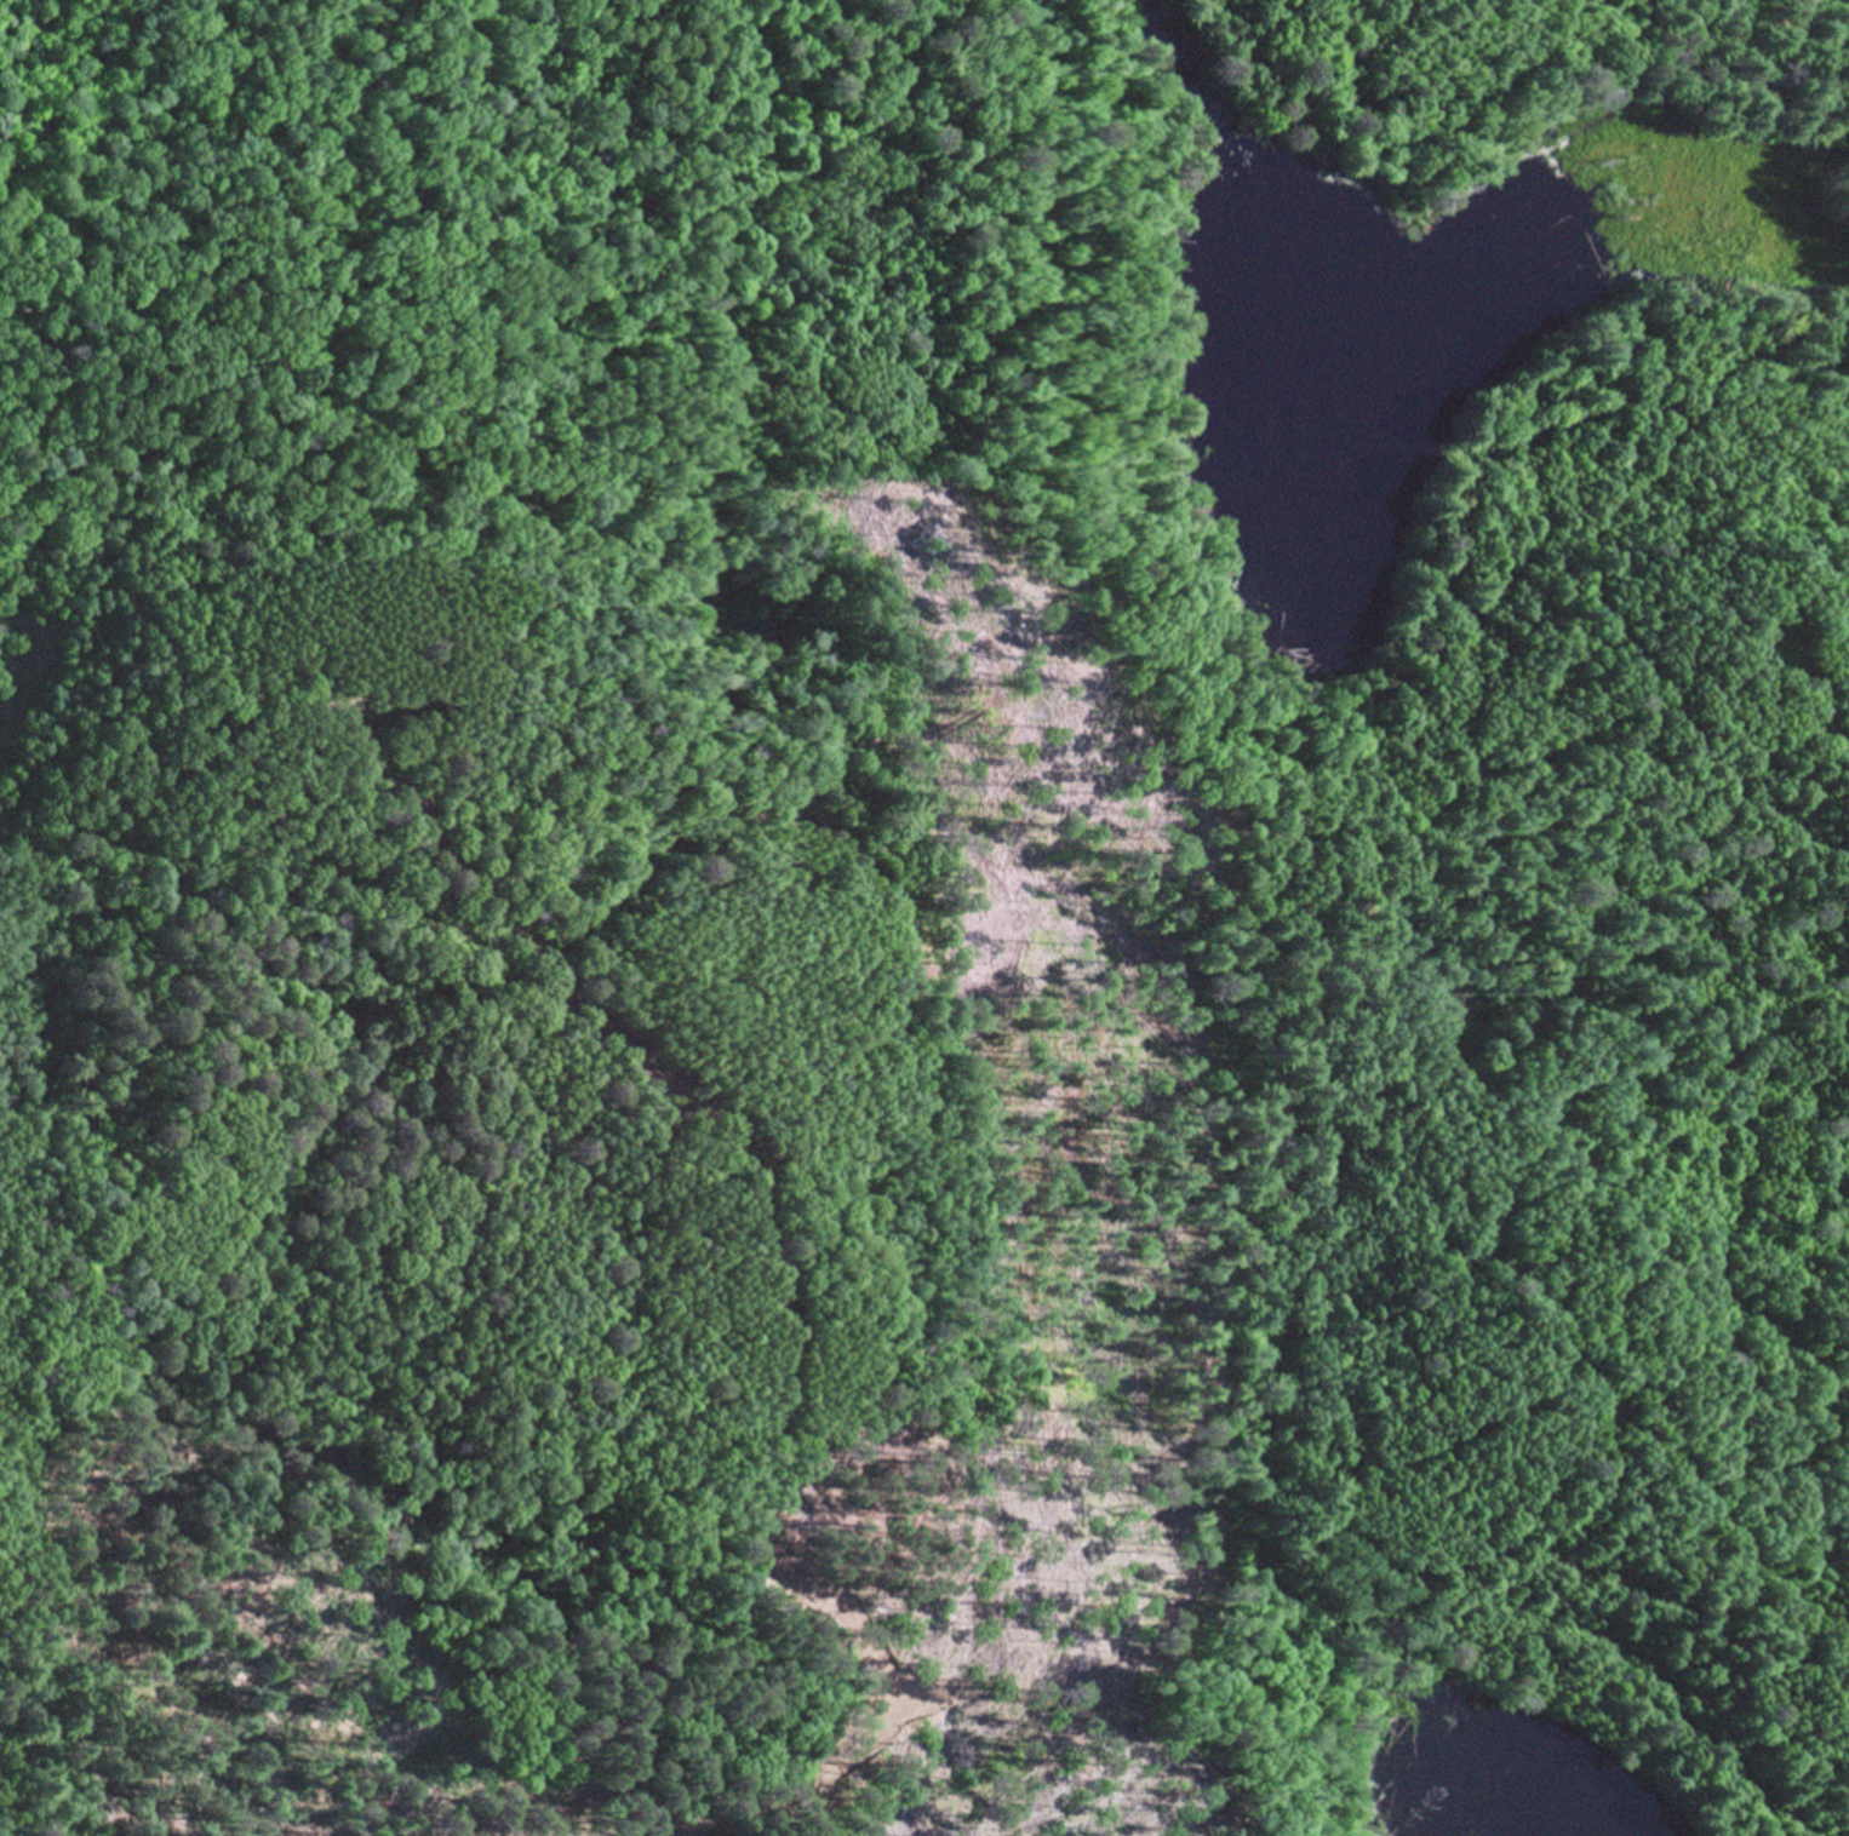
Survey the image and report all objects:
quarry: (1563, 1140)

